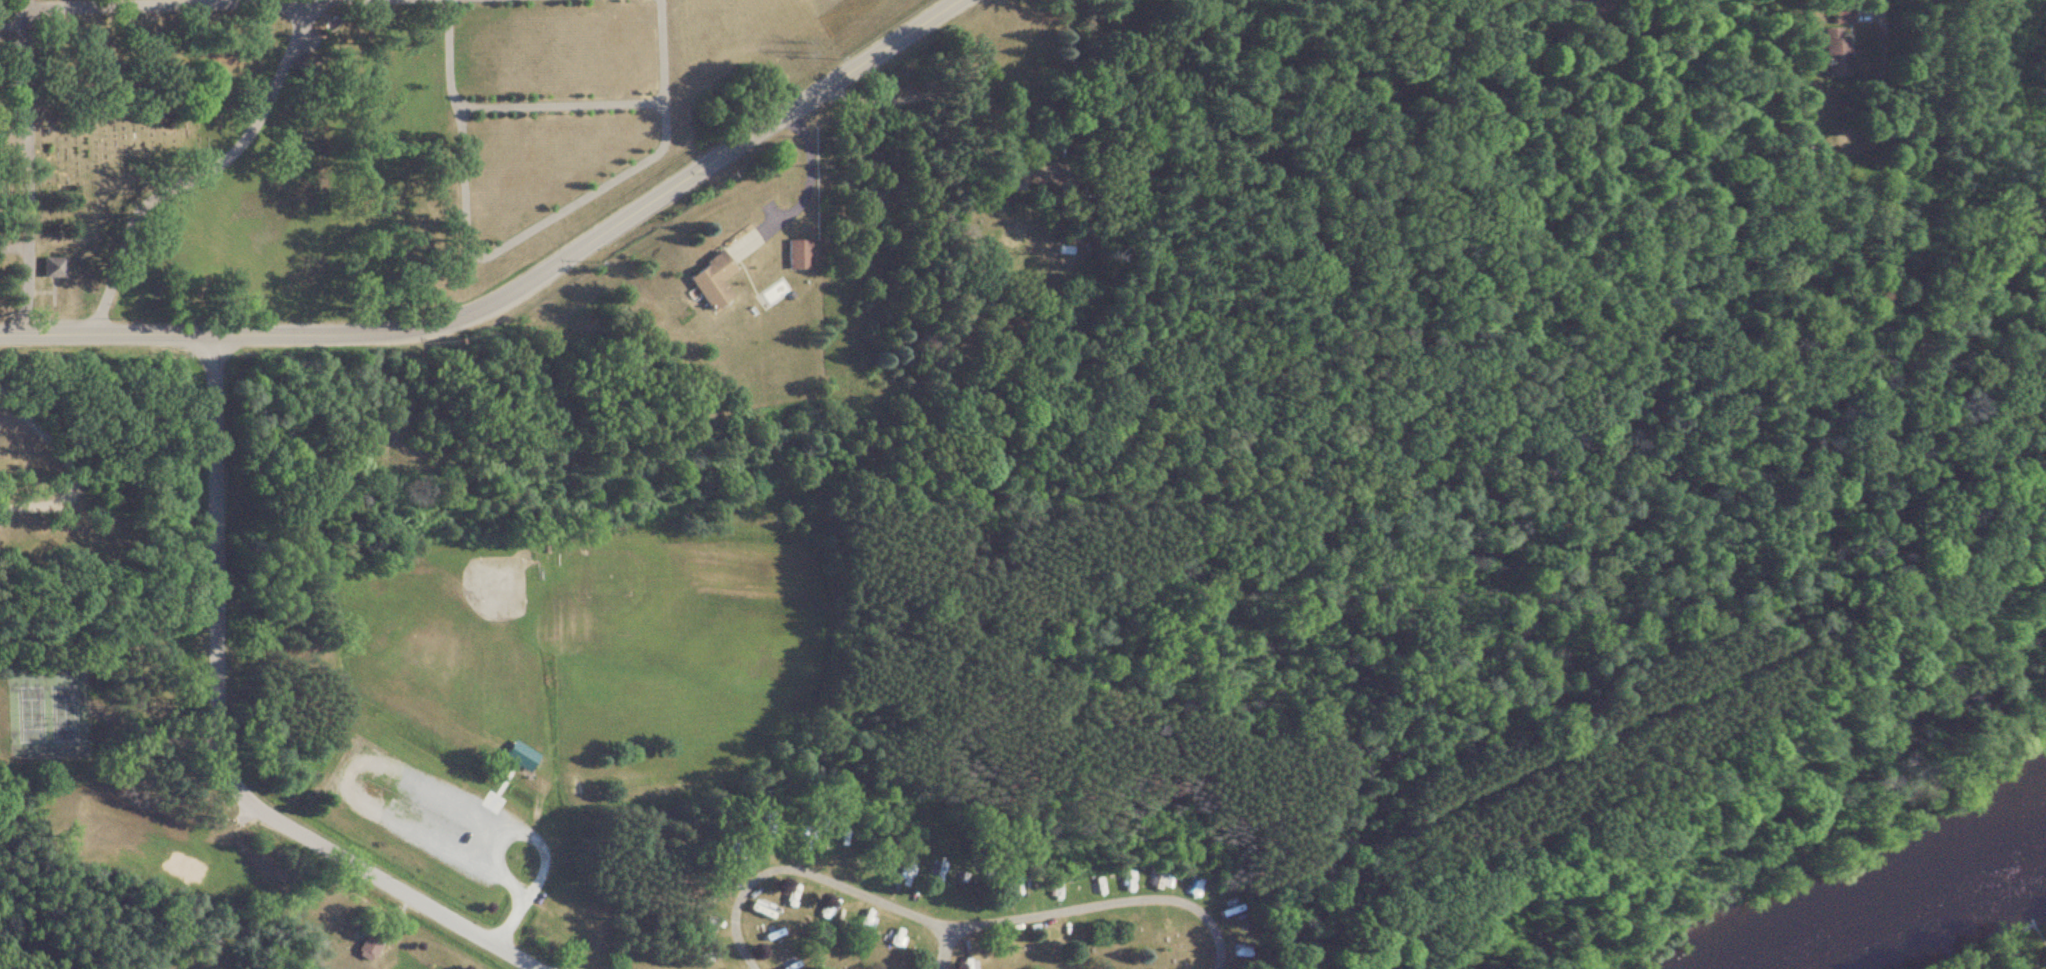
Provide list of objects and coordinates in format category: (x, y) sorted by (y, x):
road: (1876, 10)
building: (1836, 15)
building: (1829, 52)
road: (552, 105)
park: (312, 147)
road: (25, 167)
road: (195, 168)
road: (806, 173)
road: (517, 235)
building: (793, 255)
building: (702, 280)
road: (515, 286)
road: (66, 458)
park: (441, 637)
park: (649, 637)
park: (454, 691)
road: (1641, 702)
park: (22, 714)
park: (63, 714)
road: (215, 738)
road: (380, 760)
parking lot: (414, 808)
building: (787, 896)
river: (1927, 906)
building: (757, 909)
building: (1228, 910)
building: (820, 912)
building: (860, 922)
road: (951, 929)
building: (760, 941)
building: (360, 949)
road: (941, 950)

